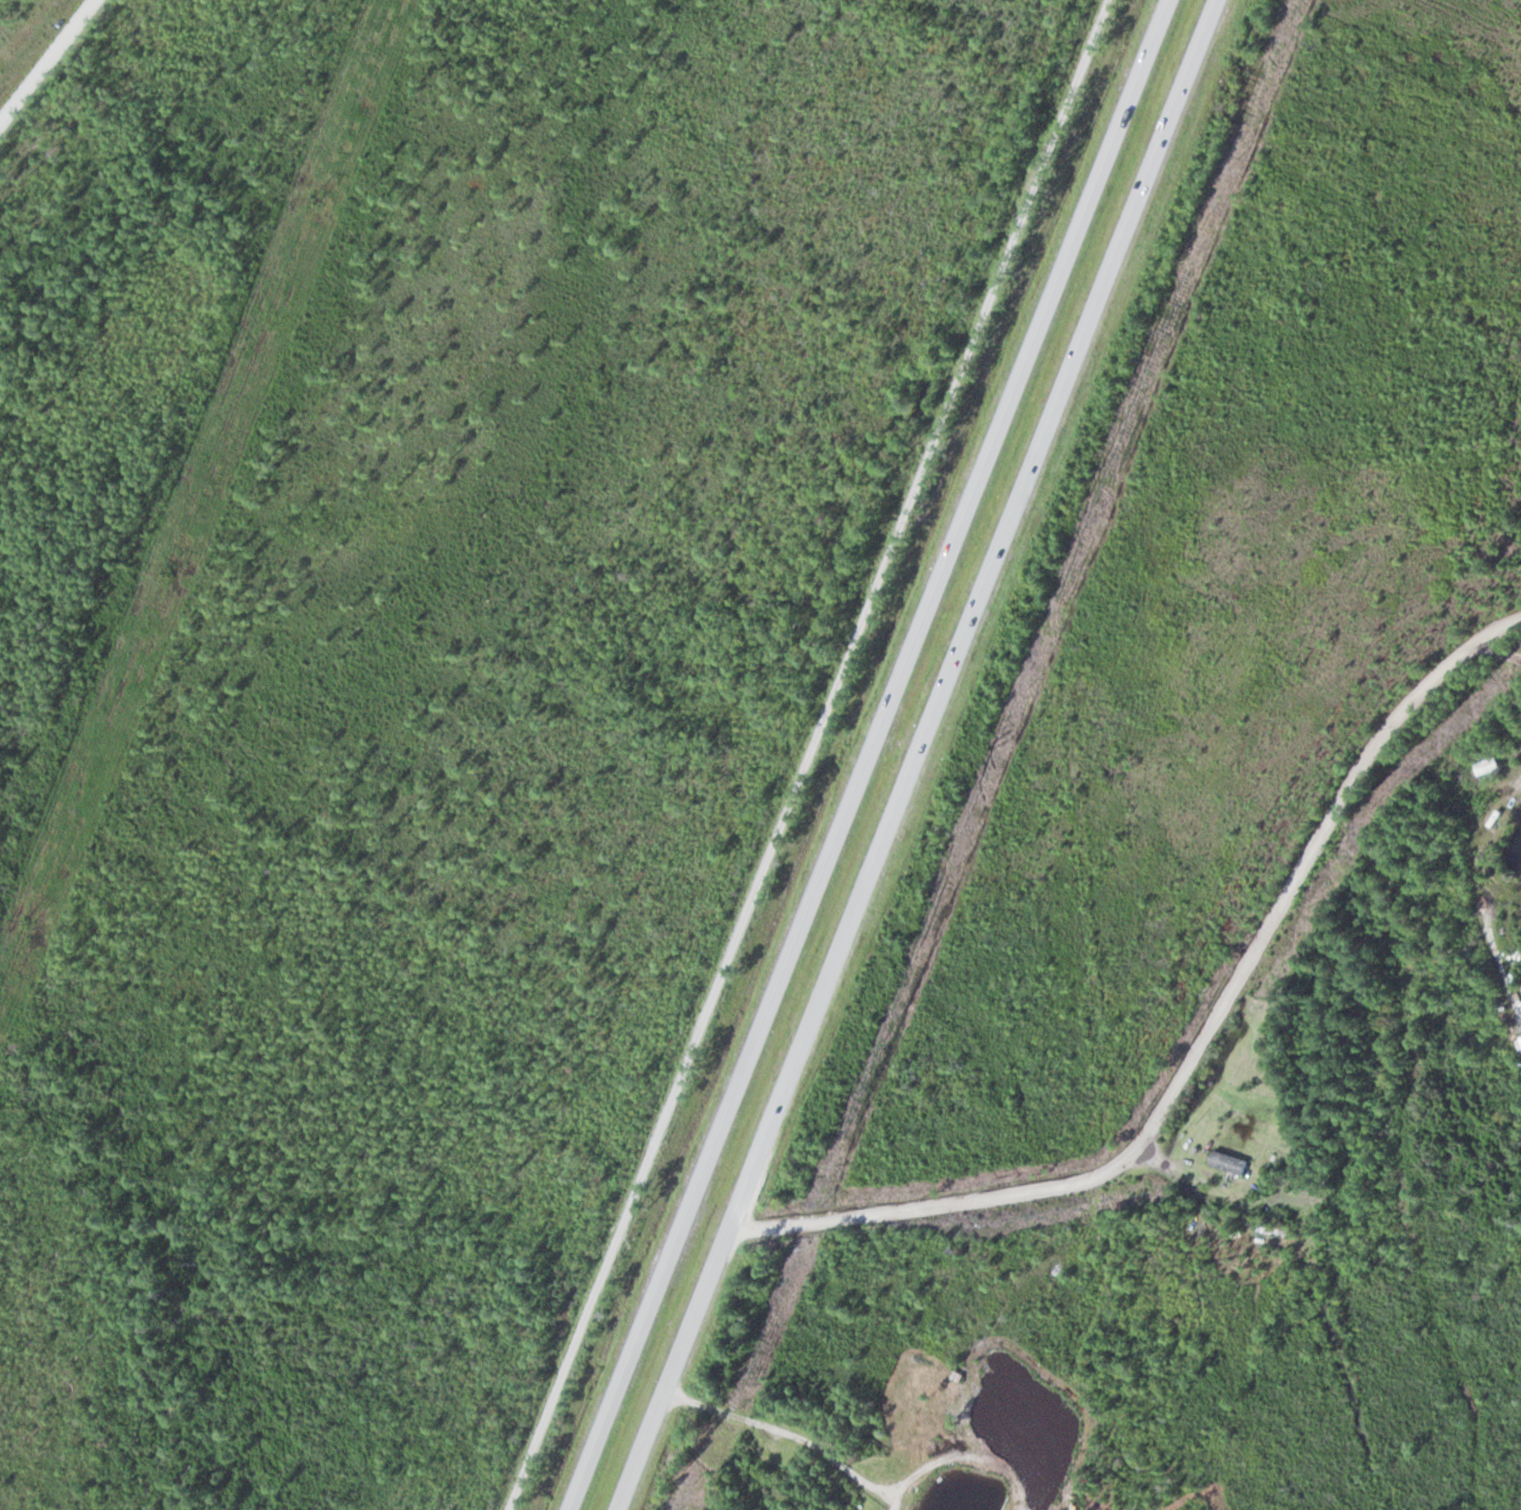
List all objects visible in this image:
road: (46, 58)
road: (807, 754)
road: (807, 754)
road: (868, 754)
road: (914, 754)
building: (1490, 766)
road: (1198, 1042)
building: (1230, 1163)
building: (1274, 1232)
road: (789, 1429)

